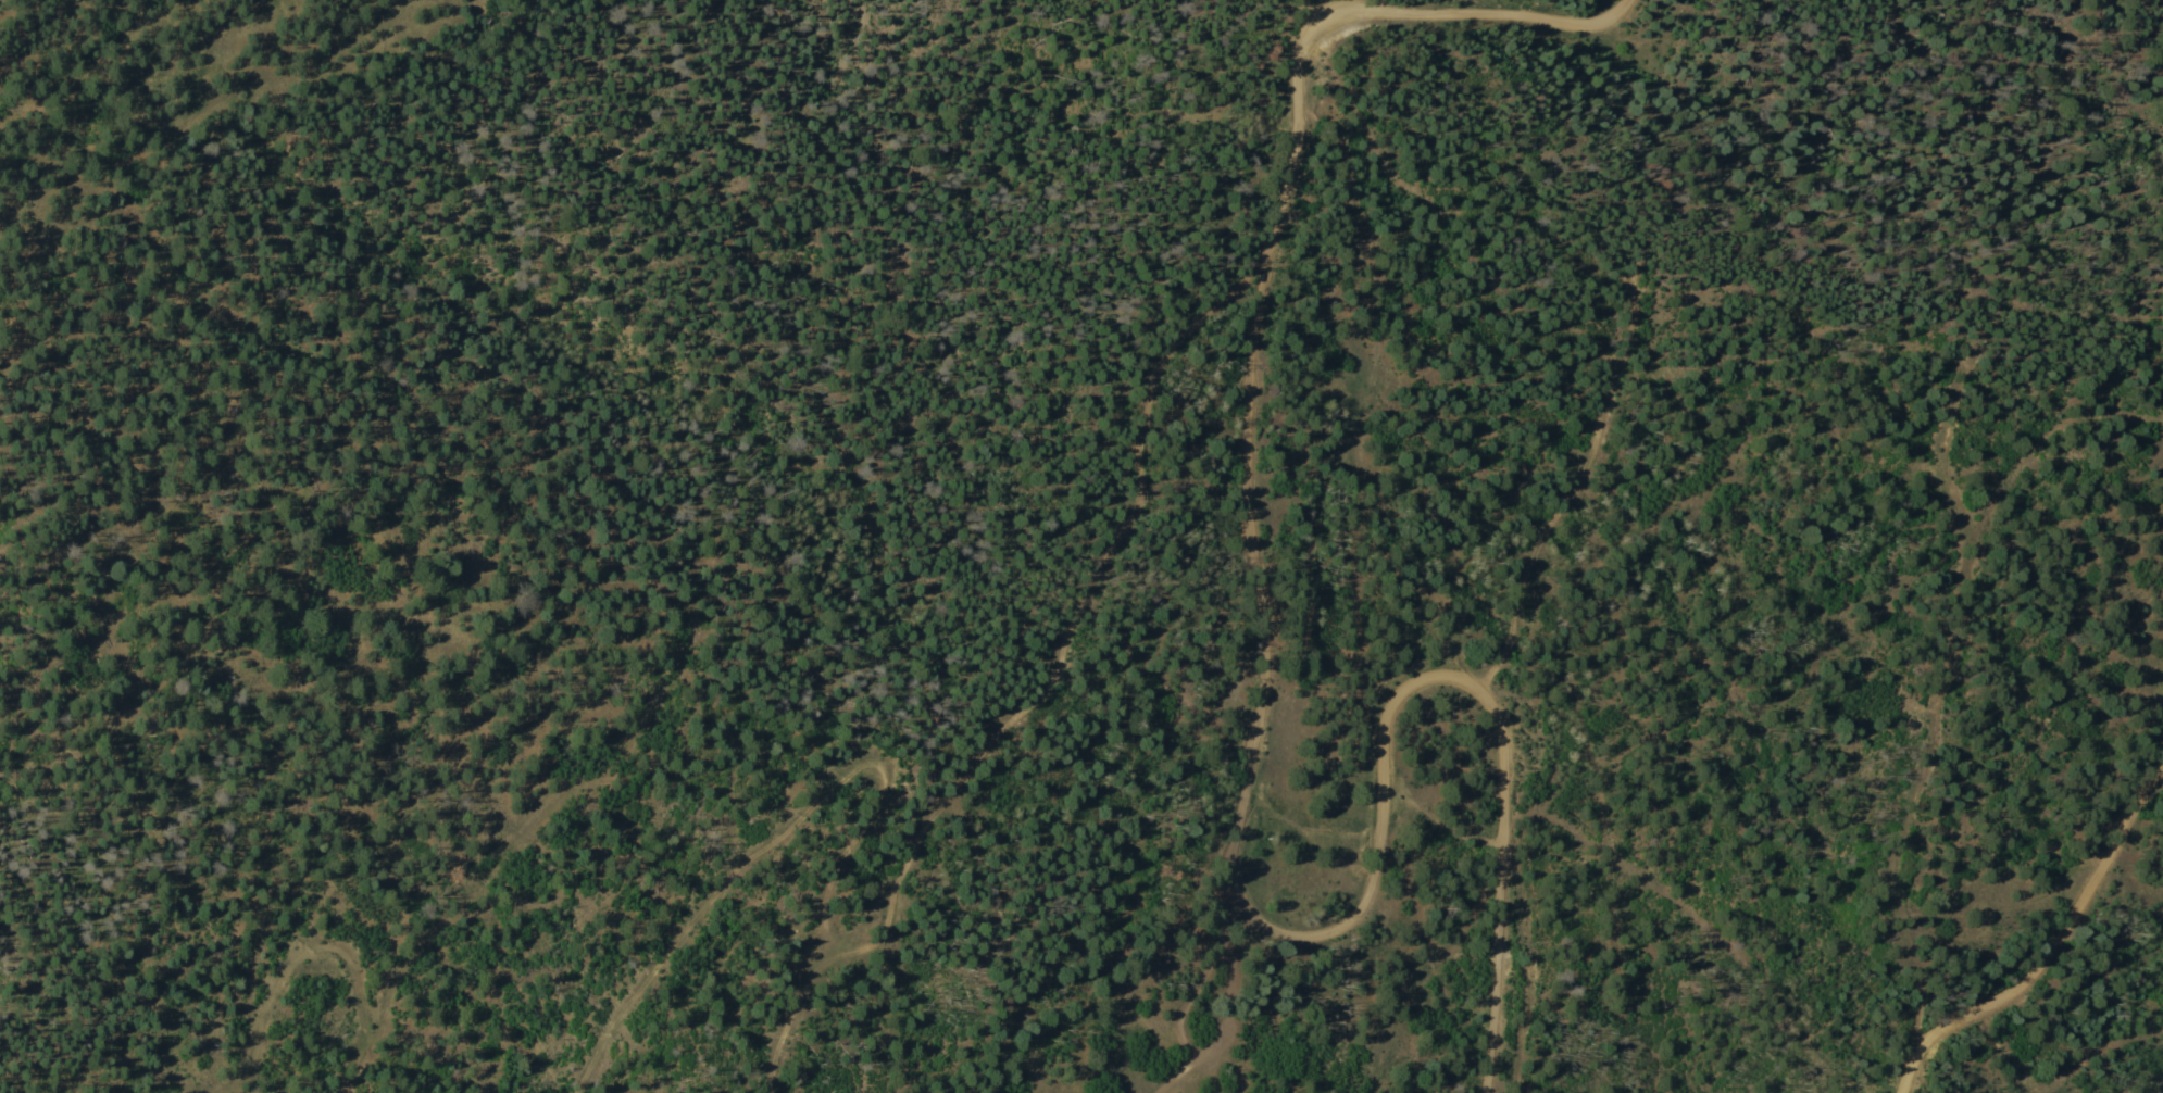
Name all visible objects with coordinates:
road: (1247, 715)
road: (2056, 953)

